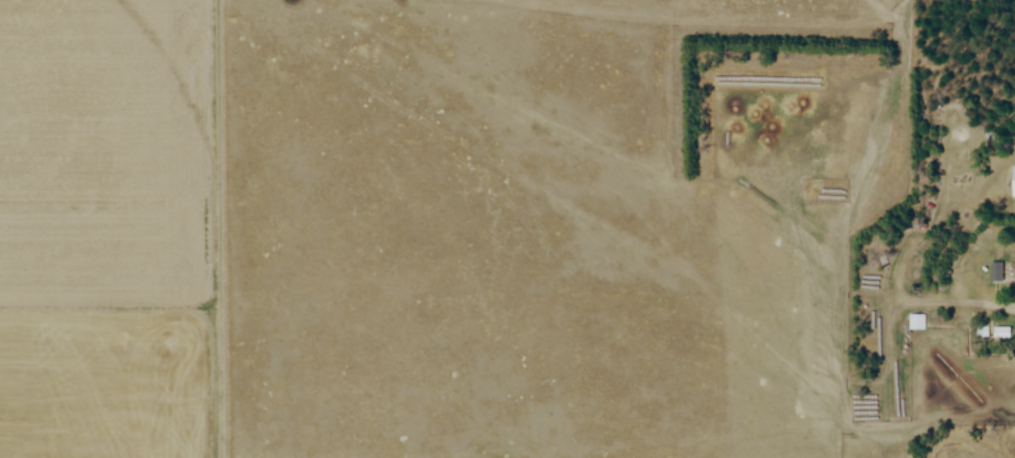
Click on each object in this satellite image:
building: (1012, 182)
building: (996, 273)
road: (1014, 306)

